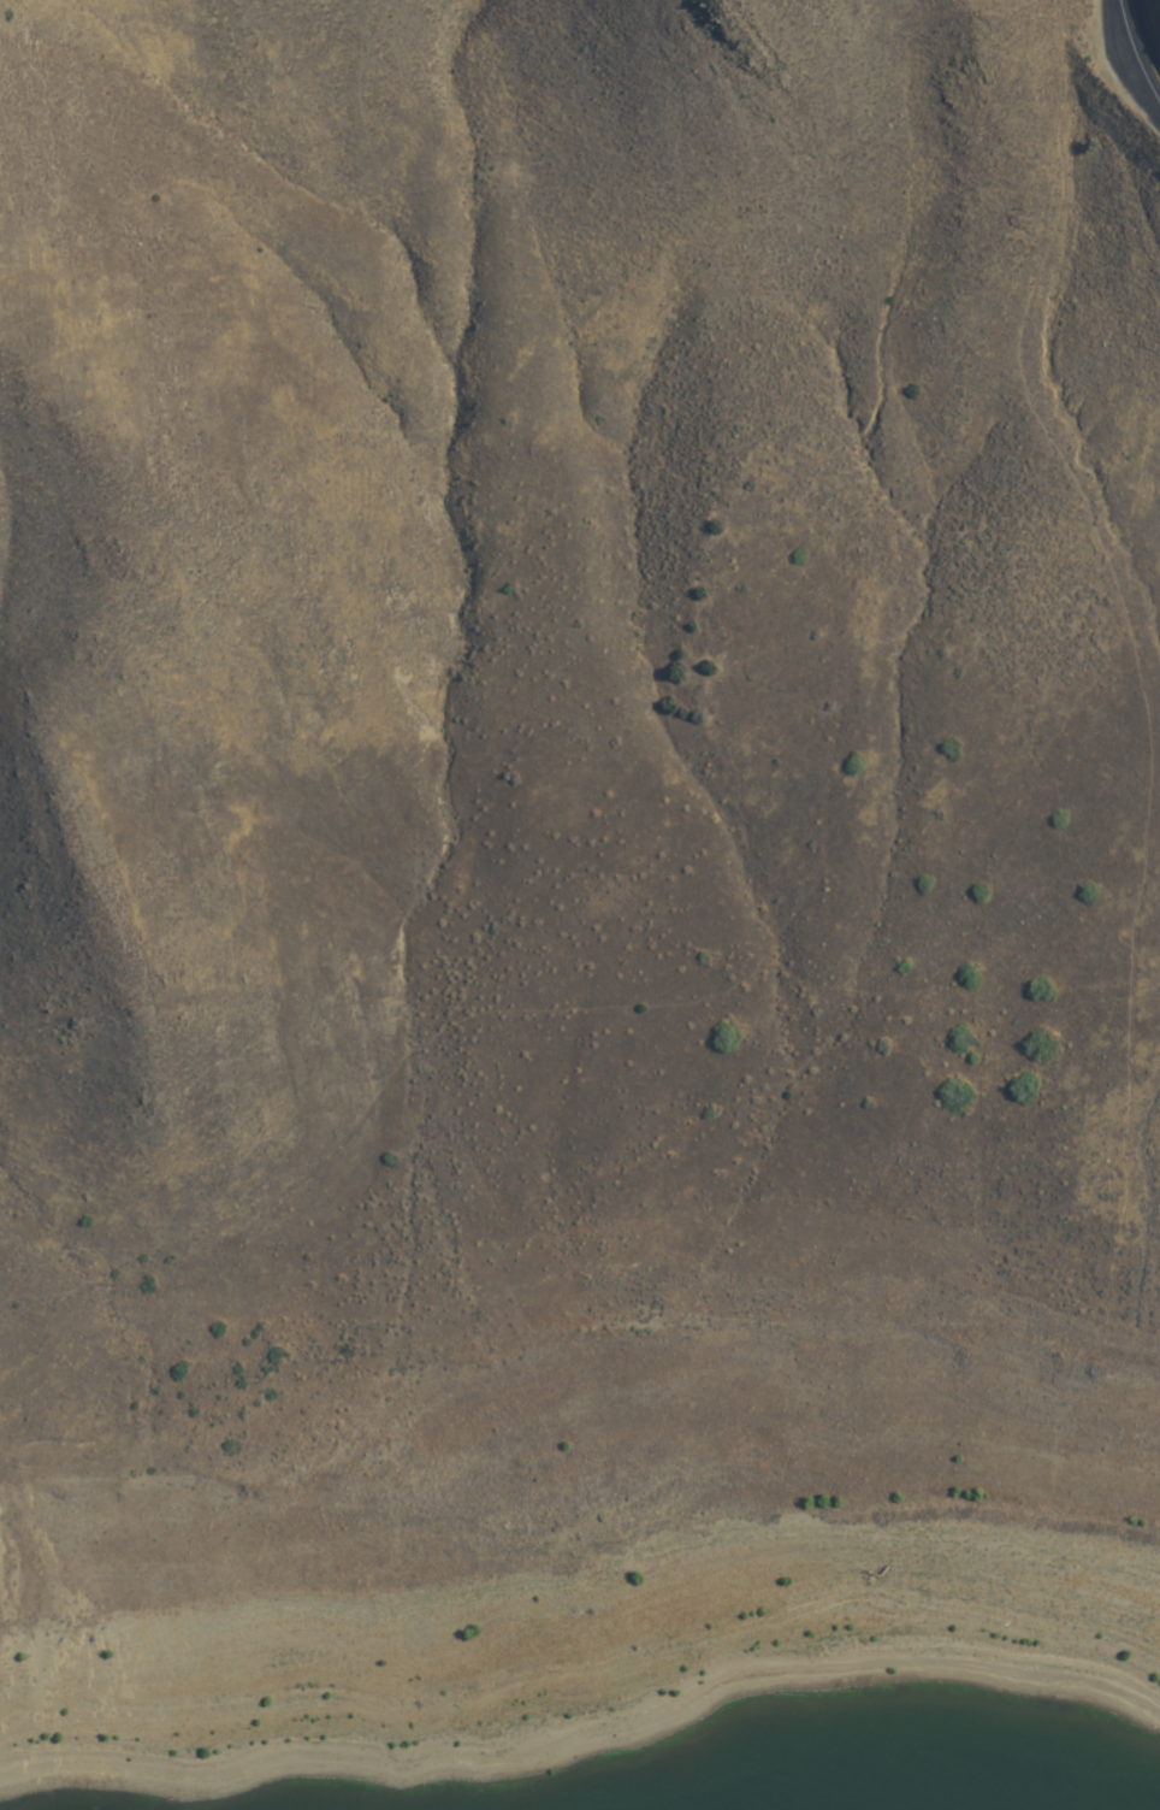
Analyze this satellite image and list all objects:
road: (1143, 39)
road: (1154, 771)
road: (570, 1027)
road: (827, 1149)
road: (1066, 1222)
road: (561, 1351)

